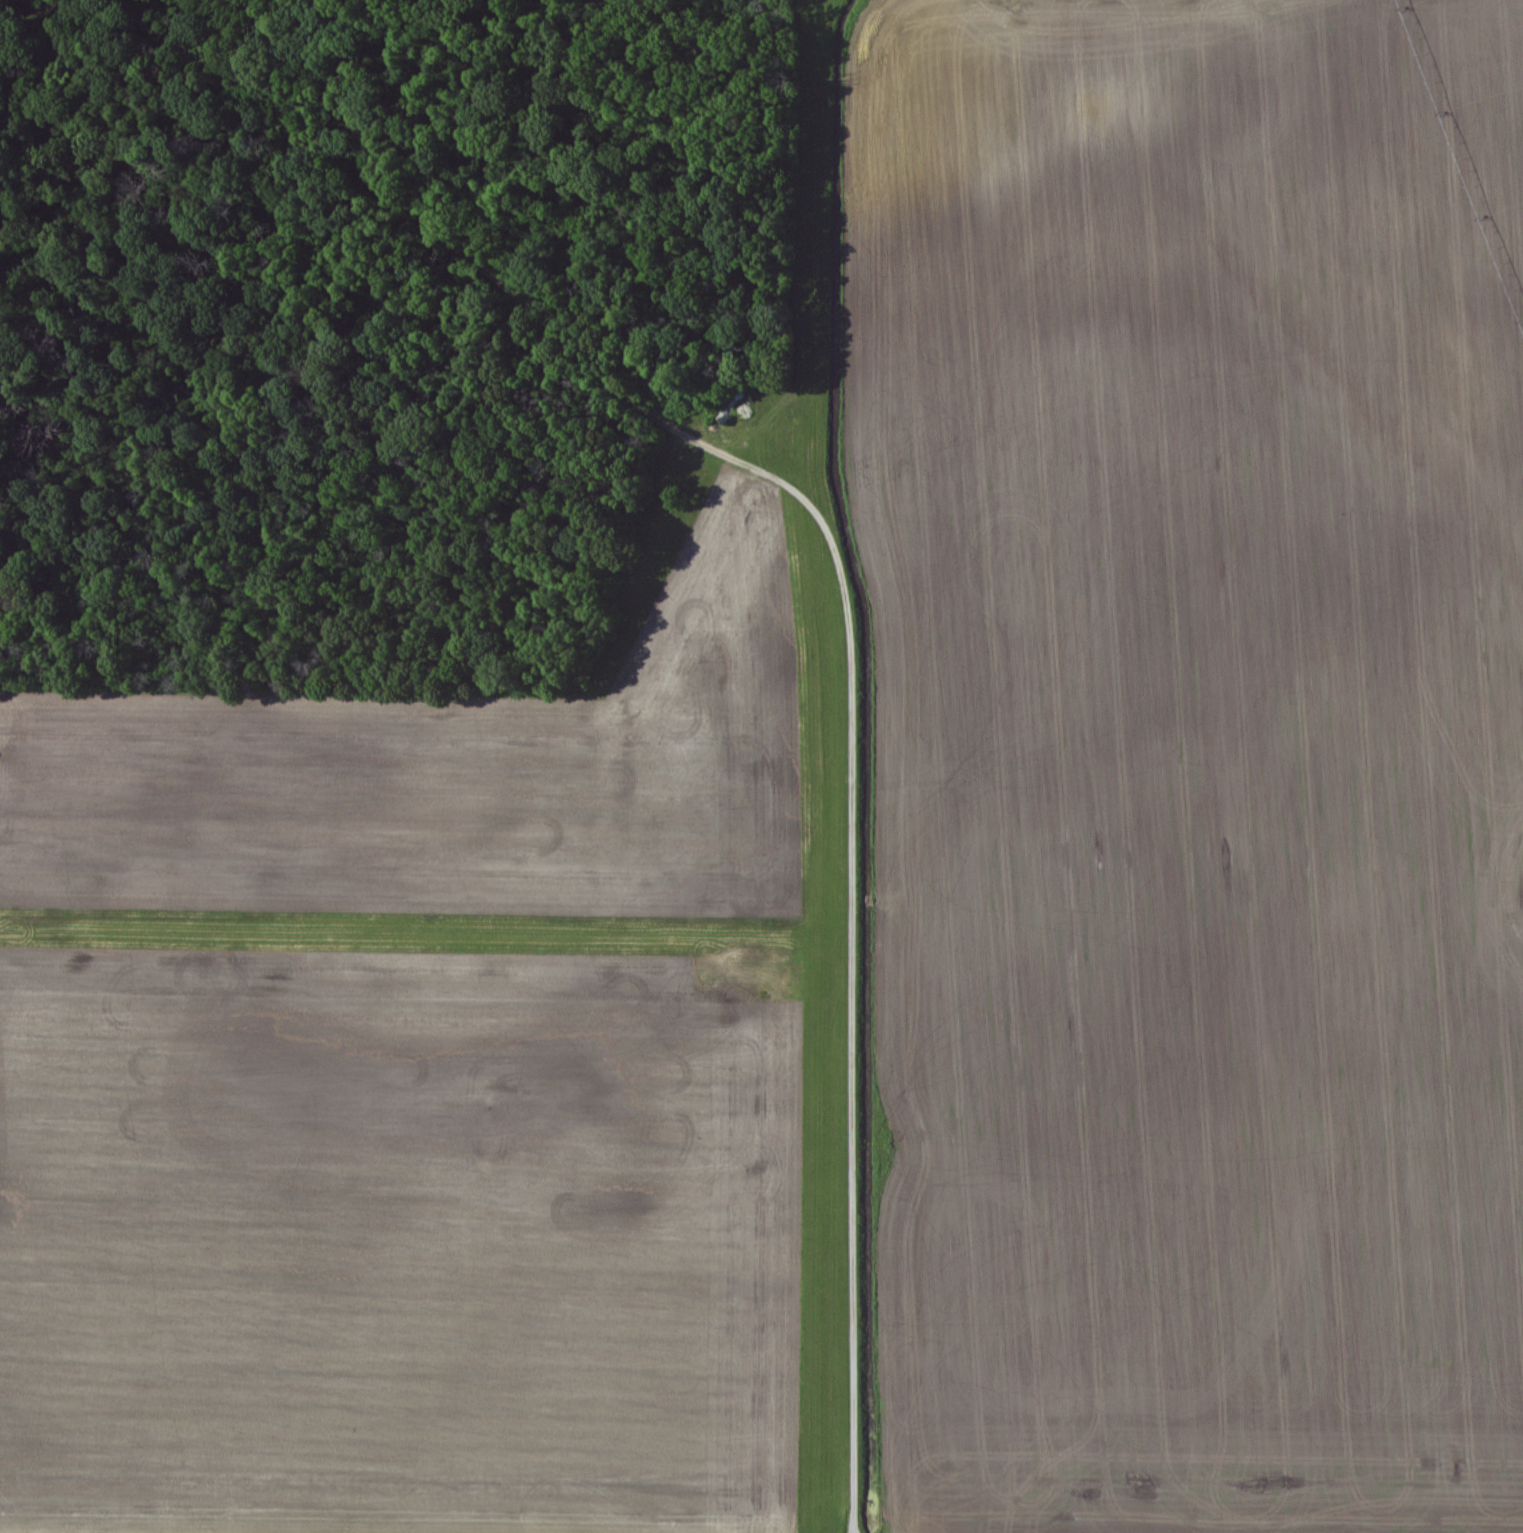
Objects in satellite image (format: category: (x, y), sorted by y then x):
road: (49, 19)
road: (853, 629)

